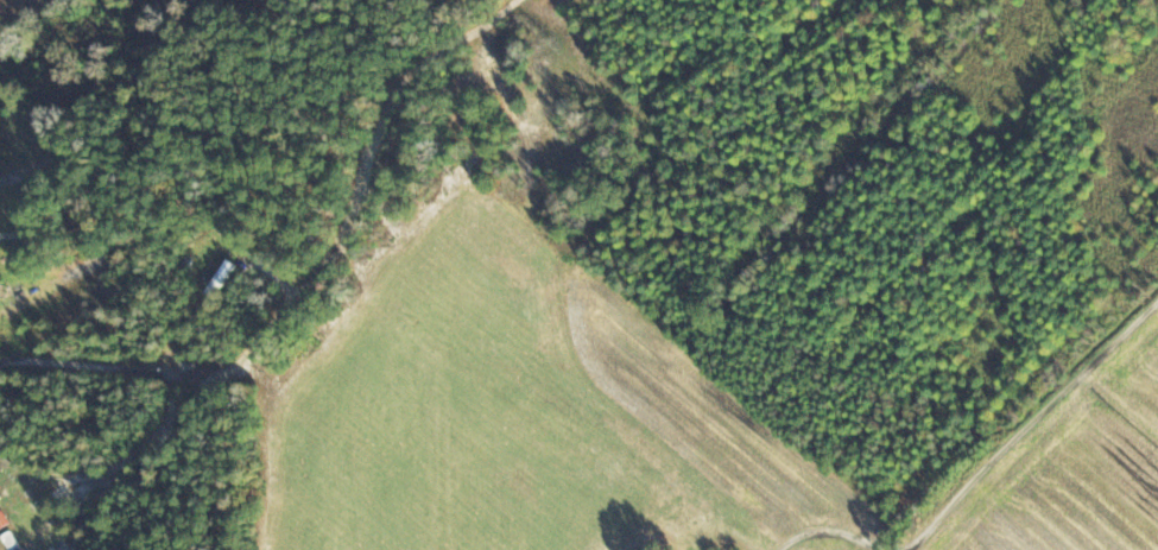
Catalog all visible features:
road: (382, 121)
building: (11, 540)

